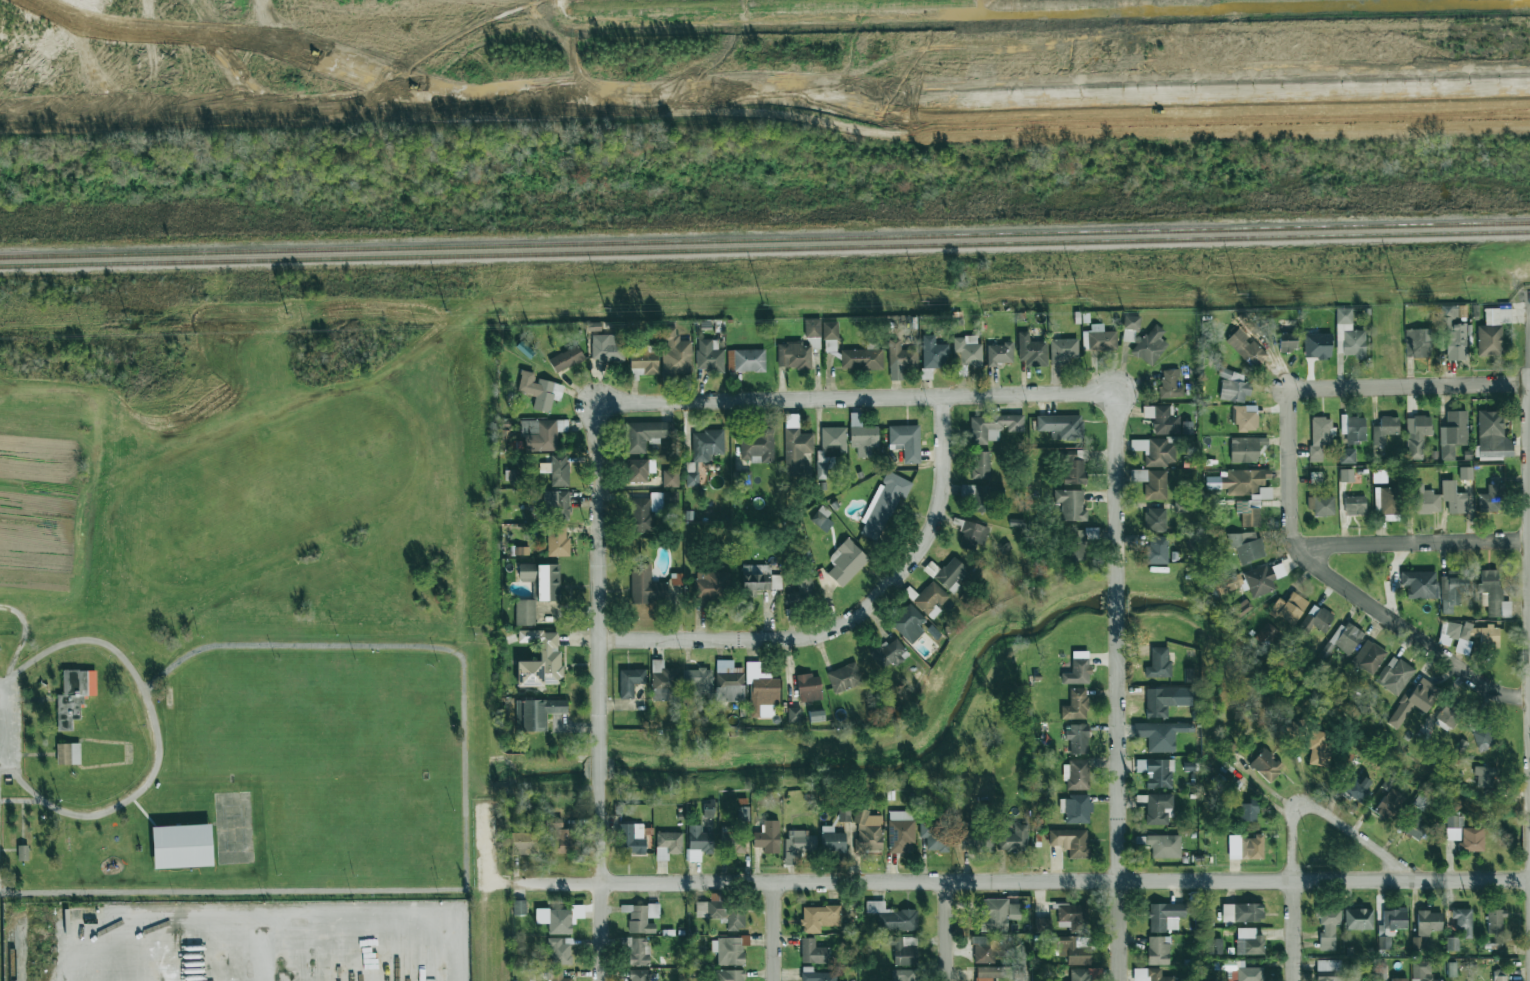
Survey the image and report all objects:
railway: (764, 238)
railway: (764, 248)
building: (1131, 322)
building: (812, 327)
building: (830, 329)
building: (1128, 335)
building: (1349, 335)
building: (1453, 335)
building: (1098, 338)
building: (812, 342)
building: (1287, 342)
building: (1418, 343)
building: (831, 345)
building: (1150, 345)
building: (1317, 345)
road: (1529, 345)
building: (1245, 346)
building: (607, 347)
building: (1031, 350)
building: (1063, 350)
building: (967, 351)
building: (675, 353)
building: (933, 353)
building: (999, 354)
building: (709, 355)
building: (793, 355)
building: (566, 359)
building: (861, 359)
building: (900, 359)
building: (745, 360)
building: (644, 363)
building: (926, 373)
building: (1170, 384)
building: (1233, 386)
road: (1407, 386)
building: (540, 390)
road: (854, 398)
building: (1246, 418)
building: (1166, 421)
building: (1061, 426)
building: (1353, 428)
building: (1385, 429)
building: (1453, 433)
building: (541, 434)
building: (646, 434)
building: (1417, 435)
building: (1493, 435)
building: (862, 436)
building: (1320, 436)
building: (833, 441)
building: (906, 441)
building: (707, 445)
building: (795, 445)
building: (756, 446)
building: (1246, 449)
building: (1160, 453)
building: (1347, 456)
building: (982, 464)
building: (639, 469)
building: (1075, 470)
building: (1466, 473)
building: (513, 475)
building: (821, 475)
building: (1379, 476)
building: (670, 478)
building: (691, 478)
building: (1154, 484)
building: (1243, 484)
road: (1114, 489)
building: (974, 493)
building: (1453, 497)
building: (670, 498)
building: (1490, 499)
building: (1425, 500)
building: (556, 503)
building: (1071, 504)
building: (1386, 504)
building: (1321, 505)
building: (1355, 505)
building: (883, 506)
building: (645, 512)
building: (1247, 514)
building: (821, 520)
building: (1155, 520)
building: (973, 535)
building: (557, 541)
road: (1408, 543)
building: (1246, 545)
building: (1076, 546)
building: (1156, 550)
building: (521, 551)
building: (846, 562)
building: (951, 574)
building: (676, 578)
building: (1262, 578)
road: (597, 579)
building: (542, 580)
building: (759, 580)
building: (1229, 584)
building: (1420, 584)
building: (645, 585)
building: (711, 585)
road: (1340, 585)
building: (676, 588)
building: (1452, 589)
building: (801, 591)
building: (1491, 591)
building: (931, 599)
road: (1115, 601)
building: (1289, 608)
building: (525, 612)
road: (849, 618)
building: (1316, 619)
building: (908, 623)
building: (1266, 634)
building: (1472, 635)
building: (1346, 638)
building: (889, 653)
building: (1368, 656)
building: (552, 657)
building: (1158, 663)
building: (1078, 669)
building: (1394, 675)
building: (844, 677)
building: (663, 680)
building: (698, 680)
building: (630, 681)
building: (729, 682)
building: (808, 687)
building: (762, 690)
building: (73, 696)
building: (1166, 700)
building: (1413, 701)
building: (1075, 705)
building: (537, 713)
building: (793, 715)
building: (816, 715)
building: (1446, 718)
road: (3, 729)
building: (1160, 734)
road: (158, 736)
building: (1077, 738)
building: (1483, 738)
building: (1319, 747)
building: (67, 753)
building: (1266, 765)
road: (599, 768)
building: (1159, 773)
building: (1076, 774)
building: (1485, 776)
building: (1357, 789)
road: (1116, 798)
building: (1388, 804)
building: (1158, 808)
building: (1077, 809)
building: (1249, 810)
building: (844, 814)
road: (1289, 825)
building: (1415, 827)
building: (868, 831)
building: (901, 831)
building: (1464, 834)
building: (934, 835)
building: (562, 837)
building: (768, 837)
building: (631, 838)
building: (1013, 839)
building: (978, 840)
building: (833, 841)
building: (524, 842)
building: (698, 842)
building: (1070, 842)
building: (667, 844)
building: (736, 845)
building: (797, 845)
building: (1161, 845)
building: (181, 846)
building: (1245, 847)
building: (22, 852)
road: (599, 880)
road: (1022, 882)
road: (257, 885)
building: (519, 907)
building: (1242, 912)
building: (722, 913)
building: (996, 914)
building: (1165, 916)
building: (641, 917)
building: (819, 917)
building: (892, 917)
building: (1073, 917)
building: (1358, 919)
building: (559, 921)
building: (1495, 921)
building: (1428, 922)
building: (1463, 922)
road: (358, 924)
road: (153, 928)
building: (1328, 928)
road: (950, 931)
road: (771, 932)
building: (1248, 942)
building: (1415, 942)
building: (1451, 944)
road: (75, 945)
railway: (11, 946)
building: (1215, 946)
building: (988, 948)
building: (729, 950)
building: (1158, 950)
building: (638, 951)
building: (812, 951)
building: (905, 951)
building: (1073, 951)
building: (560, 952)
building: (1233, 964)
building: (1451, 969)
building: (1421, 971)
building: (987, 973)
building: (1079, 974)
building: (1250, 974)
building: (638, 975)
building: (729, 975)
building: (816, 975)
building: (903, 975)
building: (1151, 975)
building: (1499, 975)
building: (557, 976)
building: (1398, 979)

